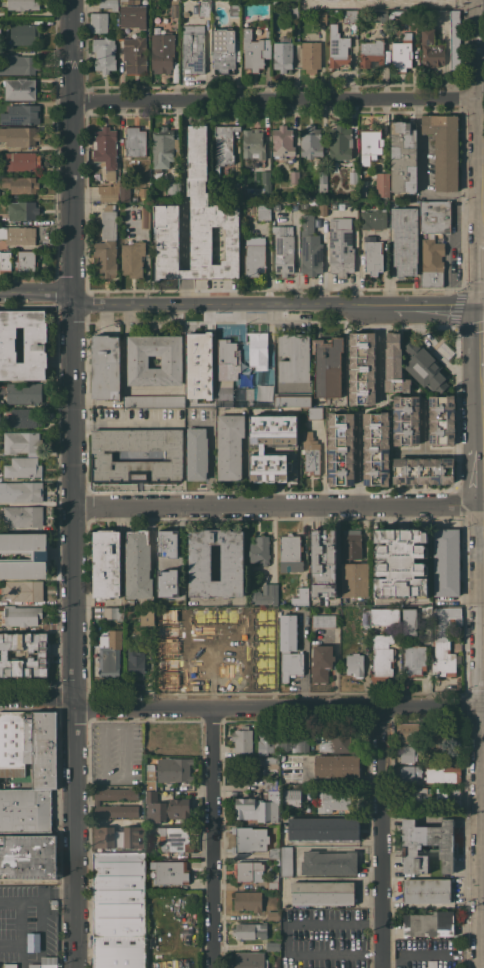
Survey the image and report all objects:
building: (22, 4)
building: (109, 4)
road: (389, 4)
building: (173, 8)
building: (203, 8)
building: (291, 8)
building: (234, 10)
building: (132, 13)
building: (380, 14)
building: (349, 15)
building: (321, 17)
building: (264, 22)
building: (98, 23)
building: (267, 33)
building: (21, 35)
building: (454, 38)
road: (482, 43)
building: (337, 47)
building: (193, 48)
building: (223, 49)
building: (431, 49)
building: (254, 50)
building: (162, 52)
building: (401, 52)
building: (104, 53)
building: (371, 53)
building: (135, 54)
building: (282, 54)
building: (310, 56)
building: (19, 64)
building: (19, 88)
road: (276, 100)
building: (23, 114)
building: (19, 136)
building: (134, 141)
building: (310, 142)
building: (340, 142)
building: (253, 143)
building: (283, 144)
building: (369, 144)
building: (223, 145)
building: (164, 147)
building: (443, 149)
building: (105, 150)
building: (403, 157)
building: (22, 160)
road: (422, 174)
building: (294, 177)
building: (353, 177)
building: (322, 179)
road: (482, 180)
building: (20, 184)
road: (183, 184)
building: (266, 184)
building: (382, 184)
building: (173, 187)
building: (108, 191)
building: (124, 191)
building: (312, 197)
building: (303, 203)
building: (322, 209)
building: (22, 210)
building: (263, 211)
building: (145, 217)
building: (435, 217)
building: (373, 219)
building: (108, 222)
building: (196, 223)
building: (18, 235)
building: (404, 240)
building: (340, 246)
building: (310, 247)
building: (283, 251)
road: (481, 252)
building: (372, 255)
building: (254, 257)
building: (105, 258)
building: (132, 258)
building: (4, 260)
building: (26, 261)
building: (431, 262)
road: (184, 274)
road: (184, 289)
road: (241, 299)
traffic signals: (482, 299)
building: (35, 347)
building: (197, 348)
building: (258, 350)
building: (293, 358)
building: (227, 360)
building: (137, 361)
building: (392, 364)
building: (327, 366)
building: (105, 367)
building: (360, 367)
building: (425, 367)
building: (22, 392)
building: (224, 393)
building: (244, 393)
building: (197, 395)
building: (292, 399)
building: (153, 401)
building: (314, 413)
building: (21, 417)
building: (441, 419)
building: (406, 420)
road: (127, 424)
building: (22, 443)
building: (229, 446)
building: (338, 448)
building: (373, 448)
building: (262, 449)
building: (310, 452)
building: (197, 454)
building: (101, 455)
road: (321, 463)
building: (23, 467)
building: (423, 470)
road: (74, 483)
building: (22, 491)
road: (278, 505)
building: (22, 516)
building: (351, 544)
building: (169, 548)
building: (259, 549)
building: (290, 552)
building: (23, 555)
building: (200, 562)
building: (400, 562)
building: (446, 562)
building: (106, 563)
building: (323, 563)
building: (137, 565)
building: (354, 579)
building: (166, 583)
building: (22, 590)
building: (172, 593)
building: (265, 594)
building: (300, 597)
building: (129, 602)
building: (113, 613)
building: (22, 615)
building: (147, 615)
building: (167, 616)
building: (228, 616)
building: (262, 616)
building: (202, 617)
building: (385, 617)
building: (414, 618)
building: (323, 620)
building: (167, 632)
building: (262, 633)
road: (213, 634)
building: (446, 640)
building: (167, 648)
building: (289, 648)
building: (262, 649)
building: (110, 651)
building: (202, 651)
building: (227, 652)
building: (35, 654)
building: (381, 656)
building: (414, 659)
road: (244, 662)
building: (136, 663)
road: (183, 663)
building: (321, 663)
building: (167, 664)
building: (262, 665)
building: (354, 665)
building: (202, 668)
building: (227, 668)
building: (167, 681)
building: (262, 681)
building: (202, 683)
building: (226, 683)
road: (37, 697)
road: (145, 709)
road: (350, 709)
building: (408, 732)
building: (242, 739)
building: (267, 741)
building: (286, 741)
building: (337, 742)
building: (303, 743)
building: (440, 743)
building: (29, 746)
building: (409, 753)
building: (456, 757)
building: (265, 761)
building: (336, 765)
building: (149, 767)
building: (396, 767)
building: (172, 769)
building: (410, 773)
building: (444, 775)
building: (150, 780)
building: (270, 783)
building: (448, 797)
building: (416, 799)
building: (333, 800)
building: (97, 802)
building: (258, 807)
building: (166, 808)
building: (25, 810)
building: (323, 828)
building: (118, 836)
road: (215, 838)
road: (382, 838)
building: (174, 839)
building: (249, 839)
building: (411, 846)
building: (274, 852)
building: (28, 856)
building: (286, 861)
building: (329, 862)
building: (170, 871)
building: (249, 871)
building: (273, 882)
building: (426, 890)
building: (322, 892)
building: (119, 894)
building: (248, 900)
road: (21, 903)
building: (53, 906)
building: (273, 915)
building: (429, 924)
building: (250, 930)
road: (285, 937)
building: (32, 941)
building: (273, 946)
building: (119, 952)
road: (433, 954)
building: (248, 960)
building: (44, 963)
building: (432, 964)
building: (9, 965)

